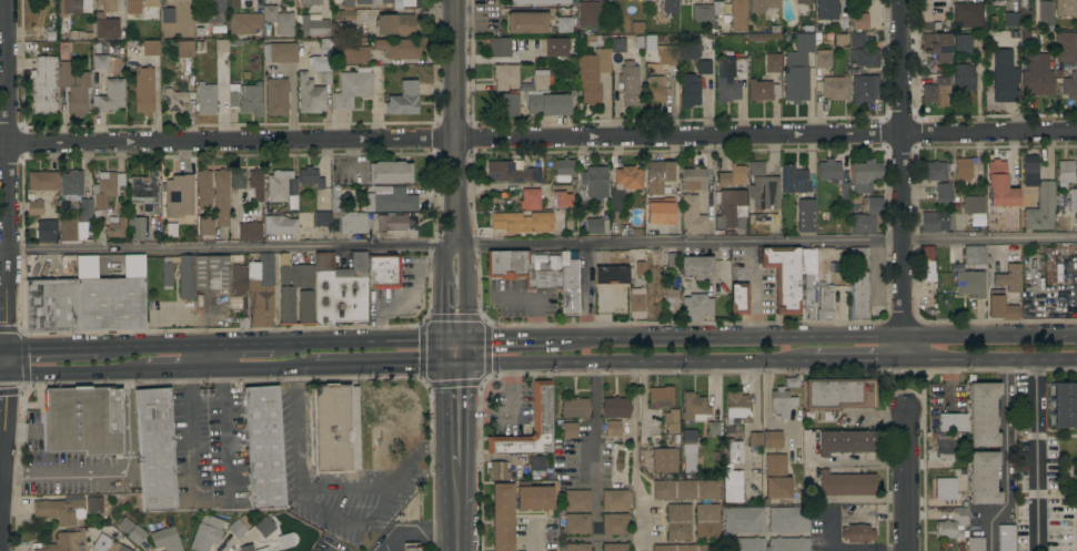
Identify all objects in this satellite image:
building: (938, 0)
building: (999, 0)
building: (385, 1)
building: (537, 1)
building: (310, 2)
building: (363, 2)
building: (405, 2)
building: (235, 3)
building: (763, 6)
building: (803, 6)
building: (68, 7)
building: (138, 7)
building: (671, 7)
building: (717, 7)
building: (105, 8)
building: (1066, 8)
building: (827, 10)
building: (210, 12)
building: (702, 12)
building: (864, 12)
building: (593, 13)
building: (1045, 14)
building: (168, 16)
building: (345, 16)
building: (737, 16)
building: (967, 16)
building: (1016, 18)
building: (279, 19)
building: (858, 21)
building: (526, 22)
building: (244, 23)
building: (394, 23)
building: (563, 24)
building: (313, 27)
building: (107, 28)
building: (218, 30)
building: (199, 32)
building: (78, 34)
building: (763, 37)
building: (597, 40)
building: (841, 40)
building: (857, 40)
building: (804, 42)
building: (622, 44)
building: (962, 44)
building: (936, 45)
building: (499, 47)
building: (557, 47)
building: (1065, 47)
building: (150, 48)
building: (399, 48)
building: (690, 48)
building: (184, 49)
building: (279, 52)
building: (355, 53)
building: (865, 57)
building: (321, 59)
building: (823, 59)
road: (507, 60)
building: (795, 60)
building: (100, 62)
building: (773, 63)
building: (704, 67)
building: (592, 74)
building: (657, 75)
building: (1036, 75)
building: (505, 76)
building: (728, 76)
building: (1004, 76)
building: (964, 81)
building: (630, 83)
building: (43, 84)
building: (796, 84)
building: (1069, 84)
building: (73, 88)
building: (352, 88)
building: (834, 88)
building: (143, 90)
building: (688, 90)
building: (762, 90)
building: (865, 90)
building: (937, 92)
building: (110, 95)
building: (310, 95)
building: (276, 96)
building: (245, 98)
building: (546, 98)
building: (207, 99)
building: (403, 99)
building: (173, 100)
building: (506, 104)
road: (454, 122)
road: (6, 124)
road: (990, 134)
road: (452, 139)
building: (755, 169)
building: (563, 170)
building: (829, 171)
building: (935, 171)
building: (963, 171)
building: (389, 172)
building: (512, 173)
building: (1065, 173)
building: (865, 175)
building: (732, 176)
building: (310, 177)
building: (627, 177)
building: (657, 177)
building: (694, 178)
building: (794, 180)
road: (904, 180)
building: (42, 181)
building: (595, 182)
building: (71, 184)
building: (236, 185)
building: (280, 185)
building: (999, 185)
building: (203, 188)
building: (145, 191)
building: (943, 193)
building: (181, 195)
building: (561, 195)
building: (764, 195)
building: (1038, 196)
building: (334, 197)
building: (221, 198)
building: (390, 200)
building: (530, 200)
building: (1073, 200)
building: (100, 203)
building: (973, 204)
building: (872, 206)
building: (731, 211)
building: (658, 213)
building: (805, 215)
building: (692, 216)
building: (44, 217)
building: (87, 217)
building: (936, 221)
building: (391, 222)
building: (522, 222)
building: (352, 223)
building: (280, 224)
building: (863, 224)
building: (205, 225)
building: (593, 225)
building: (68, 228)
building: (135, 228)
building: (249, 232)
road: (542, 244)
road: (3, 248)
building: (974, 255)
road: (442, 258)
road: (466, 261)
building: (637, 262)
building: (671, 263)
building: (926, 264)
building: (167, 266)
building: (696, 266)
building: (522, 269)
building: (384, 271)
building: (614, 271)
building: (1049, 272)
building: (202, 274)
building: (784, 277)
building: (239, 278)
building: (1009, 278)
building: (858, 283)
building: (970, 284)
building: (291, 285)
building: (322, 288)
building: (570, 289)
building: (350, 292)
building: (261, 294)
building: (808, 297)
road: (7, 298)
building: (670, 298)
building: (739, 299)
building: (824, 299)
building: (636, 303)
building: (110, 304)
building: (694, 304)
building: (50, 305)
building: (305, 306)
road: (443, 308)
road: (466, 308)
building: (1000, 308)
road: (174, 315)
traffic signals: (457, 335)
road: (507, 335)
road: (817, 335)
road: (366, 337)
road: (243, 340)
road: (168, 344)
road: (66, 347)
road: (2, 348)
traffic signals: (6, 348)
road: (456, 349)
road: (204, 357)
road: (989, 359)
road: (4, 360)
road: (857, 360)
road: (633, 363)
traffic signals: (456, 365)
road: (385, 366)
road: (263, 369)
road: (178, 371)
road: (2, 373)
traffic signals: (4, 373)
road: (74, 373)
road: (949, 378)
building: (839, 394)
road: (643, 397)
building: (660, 398)
building: (781, 402)
building: (1065, 405)
building: (541, 407)
building: (737, 407)
building: (575, 408)
building: (615, 408)
building: (695, 408)
building: (983, 414)
road: (456, 415)
road: (507, 415)
building: (672, 421)
building: (953, 422)
building: (78, 424)
road: (128, 425)
building: (1023, 426)
road: (749, 427)
road: (296, 428)
building: (336, 428)
building: (613, 428)
building: (713, 428)
building: (570, 430)
road: (2, 435)
building: (755, 439)
building: (772, 439)
building: (846, 442)
road: (632, 446)
building: (263, 447)
building: (944, 448)
road: (414, 449)
road: (594, 449)
building: (154, 450)
building: (688, 450)
road: (1036, 455)
road: (1005, 458)
building: (665, 460)
building: (537, 462)
building: (605, 463)
building: (1051, 465)
building: (1023, 468)
building: (497, 471)
building: (732, 471)
road: (60, 475)
road: (0, 477)
building: (776, 478)
building: (983, 478)
road: (906, 479)
building: (846, 483)
road: (457, 487)
road: (348, 488)
building: (945, 489)
building: (685, 490)
building: (534, 498)
road: (208, 500)
building: (614, 500)
building: (577, 501)
building: (60, 510)
road: (890, 512)
road: (852, 514)
building: (959, 516)
building: (502, 517)
building: (743, 520)
building: (788, 520)
building: (678, 522)
building: (706, 522)
road: (350, 524)
building: (577, 524)
building: (614, 524)
building: (1021, 526)
building: (1059, 526)
building: (264, 527)
building: (236, 529)
road: (415, 529)
road: (459, 529)
building: (947, 530)
building: (131, 531)
road: (829, 532)
building: (205, 533)
building: (858, 533)
building: (1006, 538)
building: (165, 539)
building: (60, 542)
building: (108, 543)
building: (789, 543)
building: (744, 544)
building: (975, 544)
building: (411, 547)
building: (576, 547)
building: (614, 547)
building: (246, 548)
building: (686, 548)
building: (263, 549)
road: (324, 549)
road: (890, 549)
road: (852, 550)

